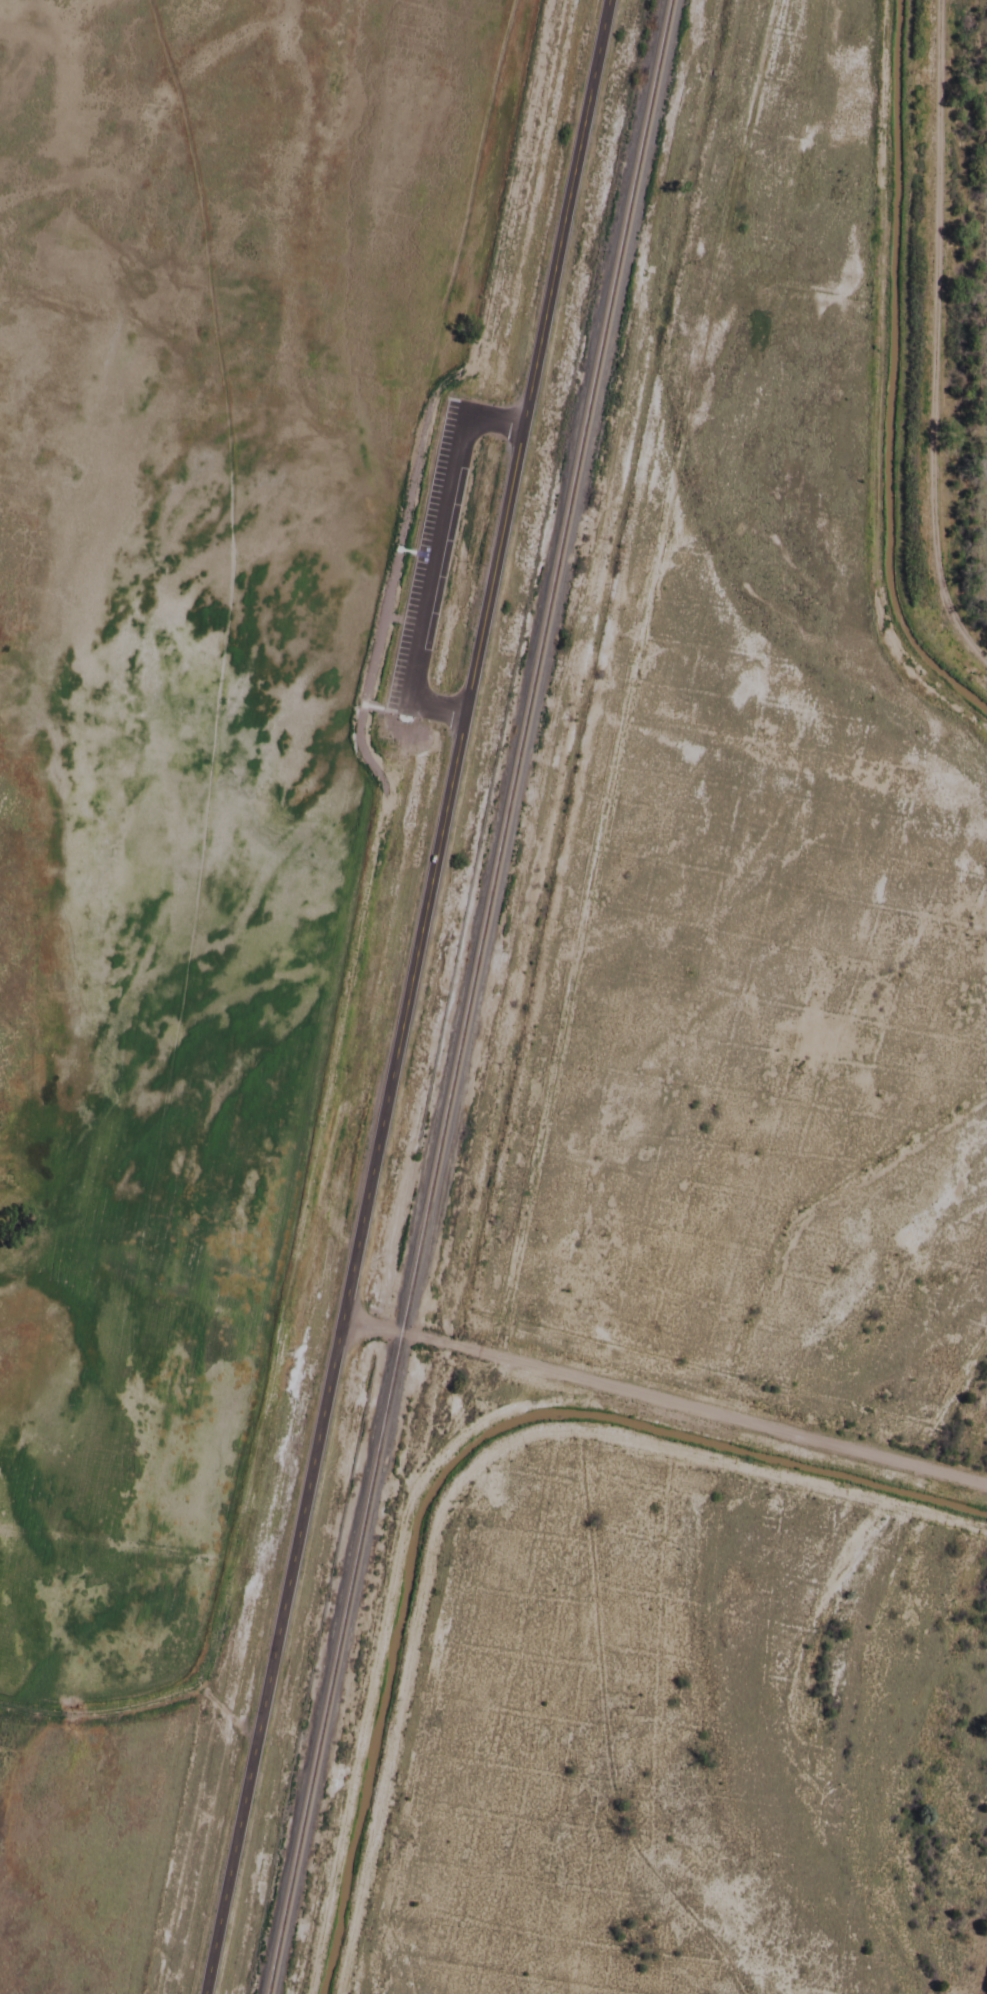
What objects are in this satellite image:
road: (937, 336)
parking lot: (489, 487)
railway: (539, 664)
road: (379, 844)
road: (409, 997)
parking lot: (353, 1162)
railway: (404, 1332)
road: (665, 1400)
road: (467, 1470)
road: (407, 1510)
railway: (332, 1664)
road: (101, 1711)
road: (224, 1711)

